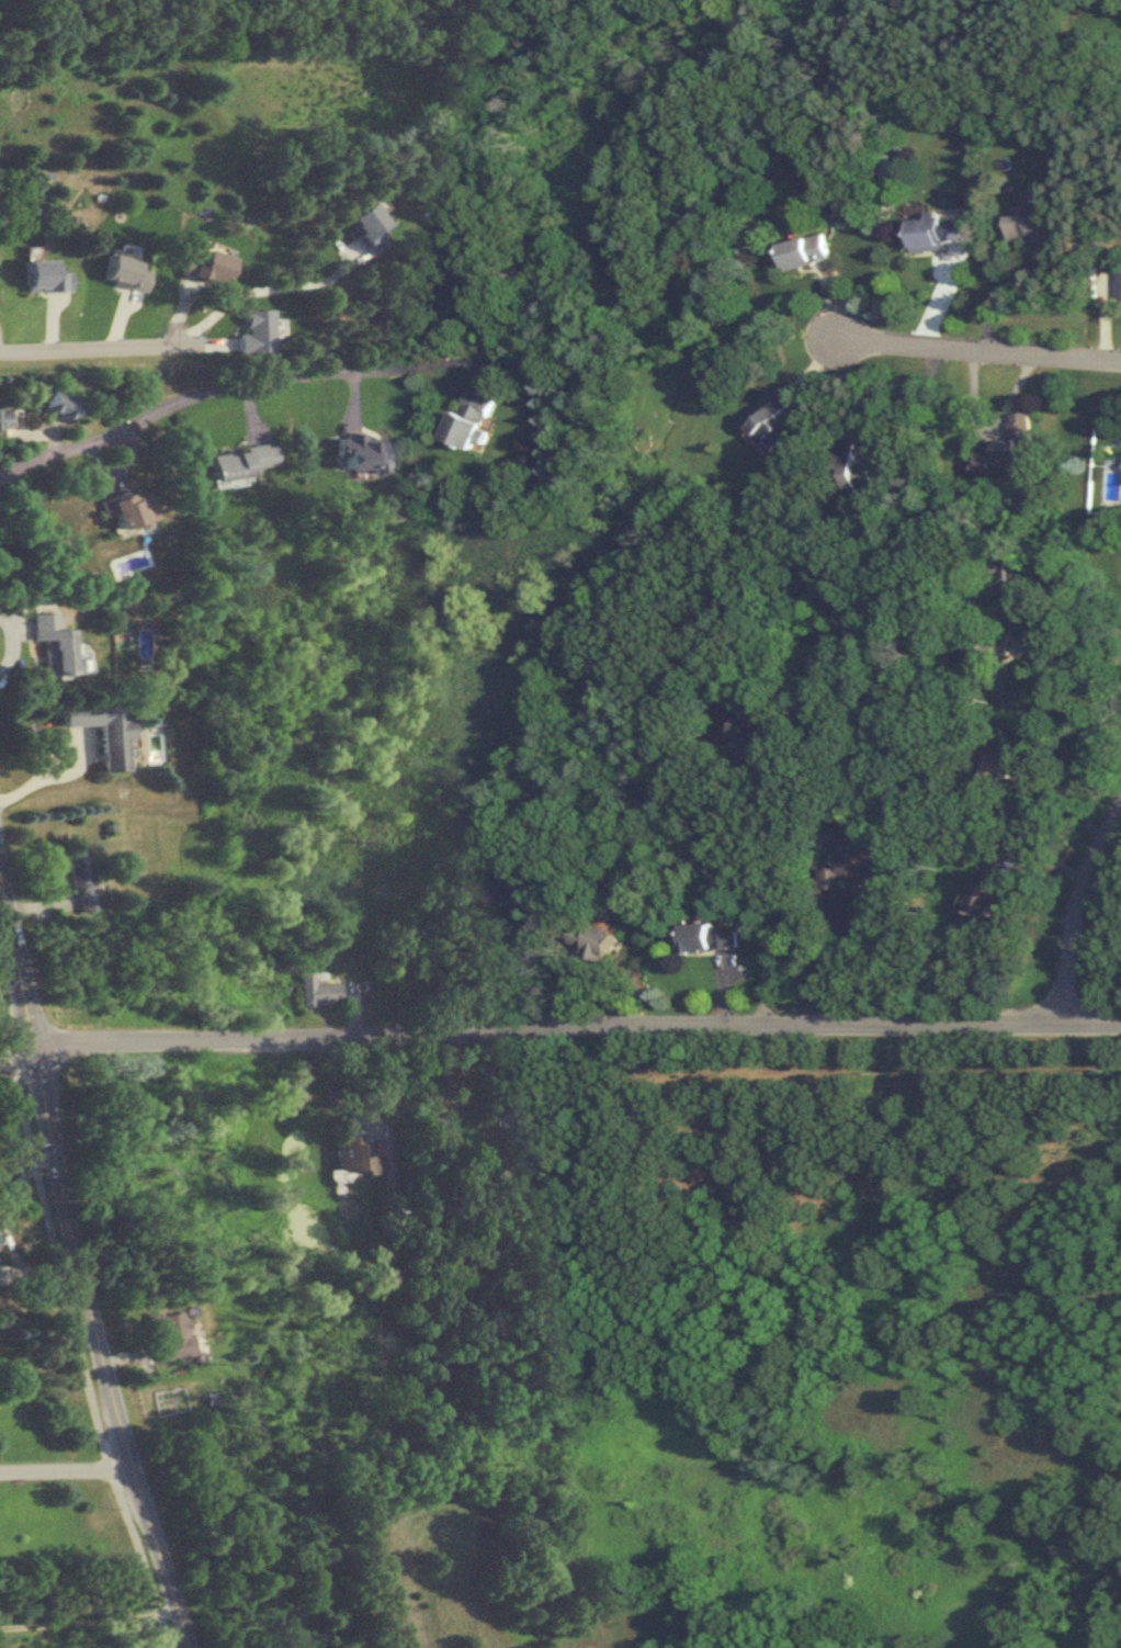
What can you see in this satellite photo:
building: (1034, 226)
building: (935, 234)
building: (805, 252)
building: (1119, 286)
road: (239, 294)
road: (94, 346)
road: (977, 349)
road: (234, 382)
road: (914, 399)
building: (61, 403)
building: (4, 418)
building: (472, 419)
building: (770, 422)
building: (1008, 449)
building: (365, 452)
building: (245, 461)
building: (861, 472)
building: (132, 509)
building: (1019, 578)
road: (1094, 625)
road: (11, 640)
building: (54, 643)
road: (1086, 654)
building: (990, 659)
building: (102, 729)
building: (749, 734)
road: (43, 770)
building: (856, 866)
building: (82, 879)
building: (500, 884)
building: (988, 894)
road: (792, 900)
road: (1076, 914)
building: (714, 938)
building: (596, 940)
road: (865, 957)
road: (471, 963)
building: (317, 991)
road: (574, 1026)
road: (13, 1052)
road: (348, 1072)
building: (520, 1099)
building: (353, 1159)
road: (83, 1276)
road: (73, 1334)
building: (170, 1336)
road: (65, 1469)
road: (87, 1619)

